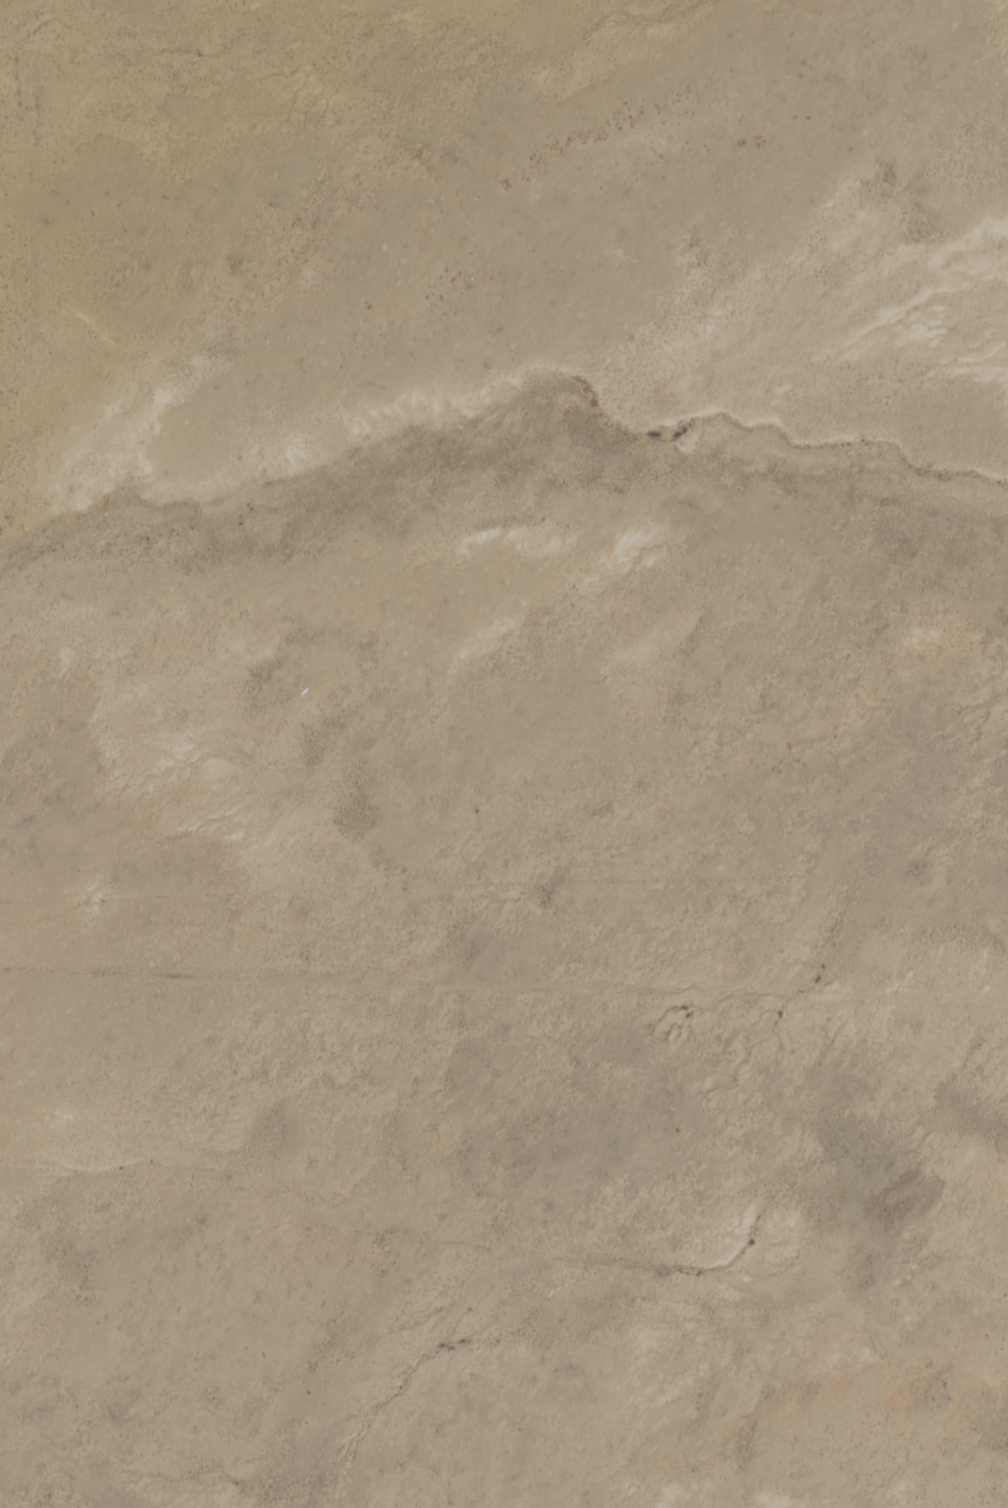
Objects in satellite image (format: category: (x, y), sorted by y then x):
road: (508, 1231)

